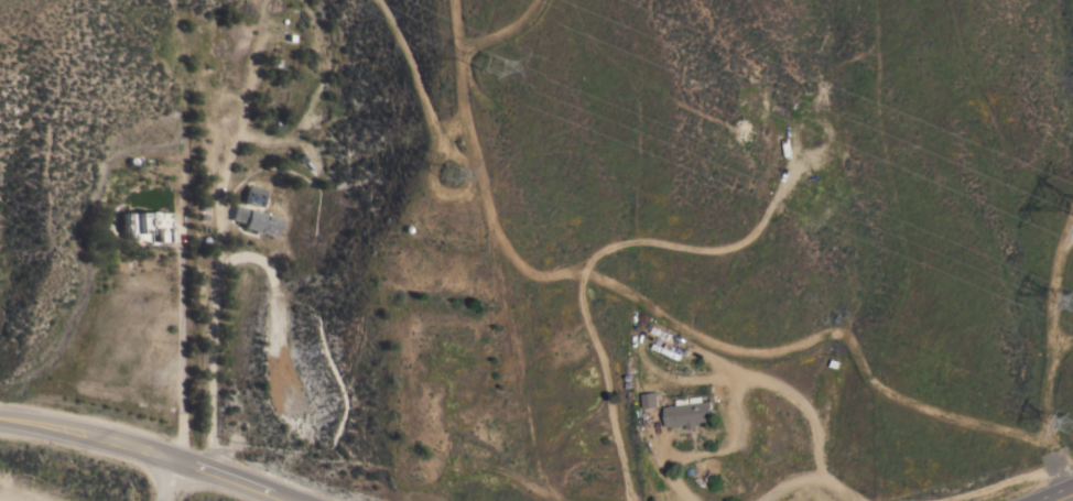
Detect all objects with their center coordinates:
power tower: (511, 69)
power tower: (455, 171)
building: (253, 195)
building: (254, 220)
building: (144, 227)
road: (180, 317)
road: (209, 339)
building: (672, 351)
road: (731, 396)
building: (649, 401)
building: (689, 412)
road: (151, 455)
road: (167, 480)
road: (787, 483)
road: (836, 488)
road: (1060, 495)

